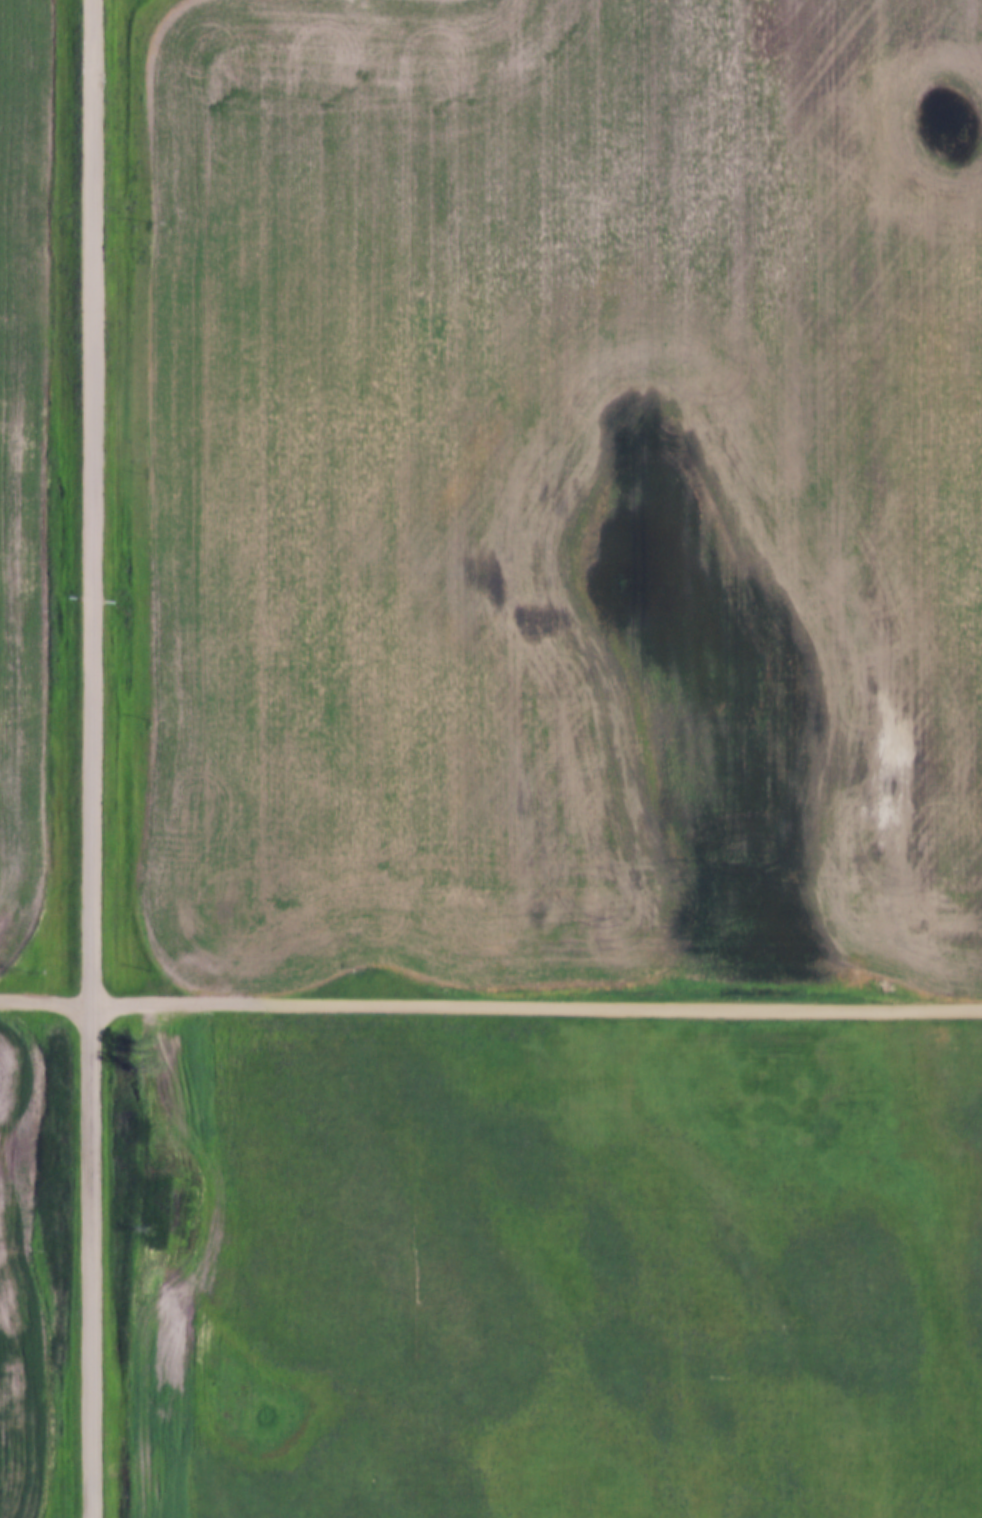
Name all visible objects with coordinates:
road: (92, 759)
road: (45, 996)
road: (536, 1002)

